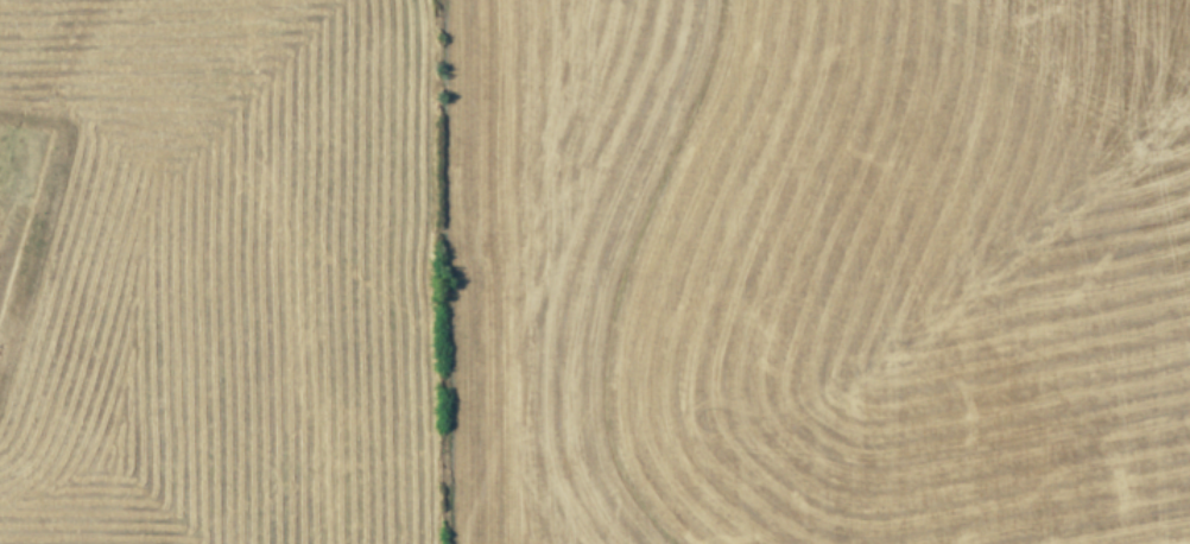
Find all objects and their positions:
crop: (595, 272)

